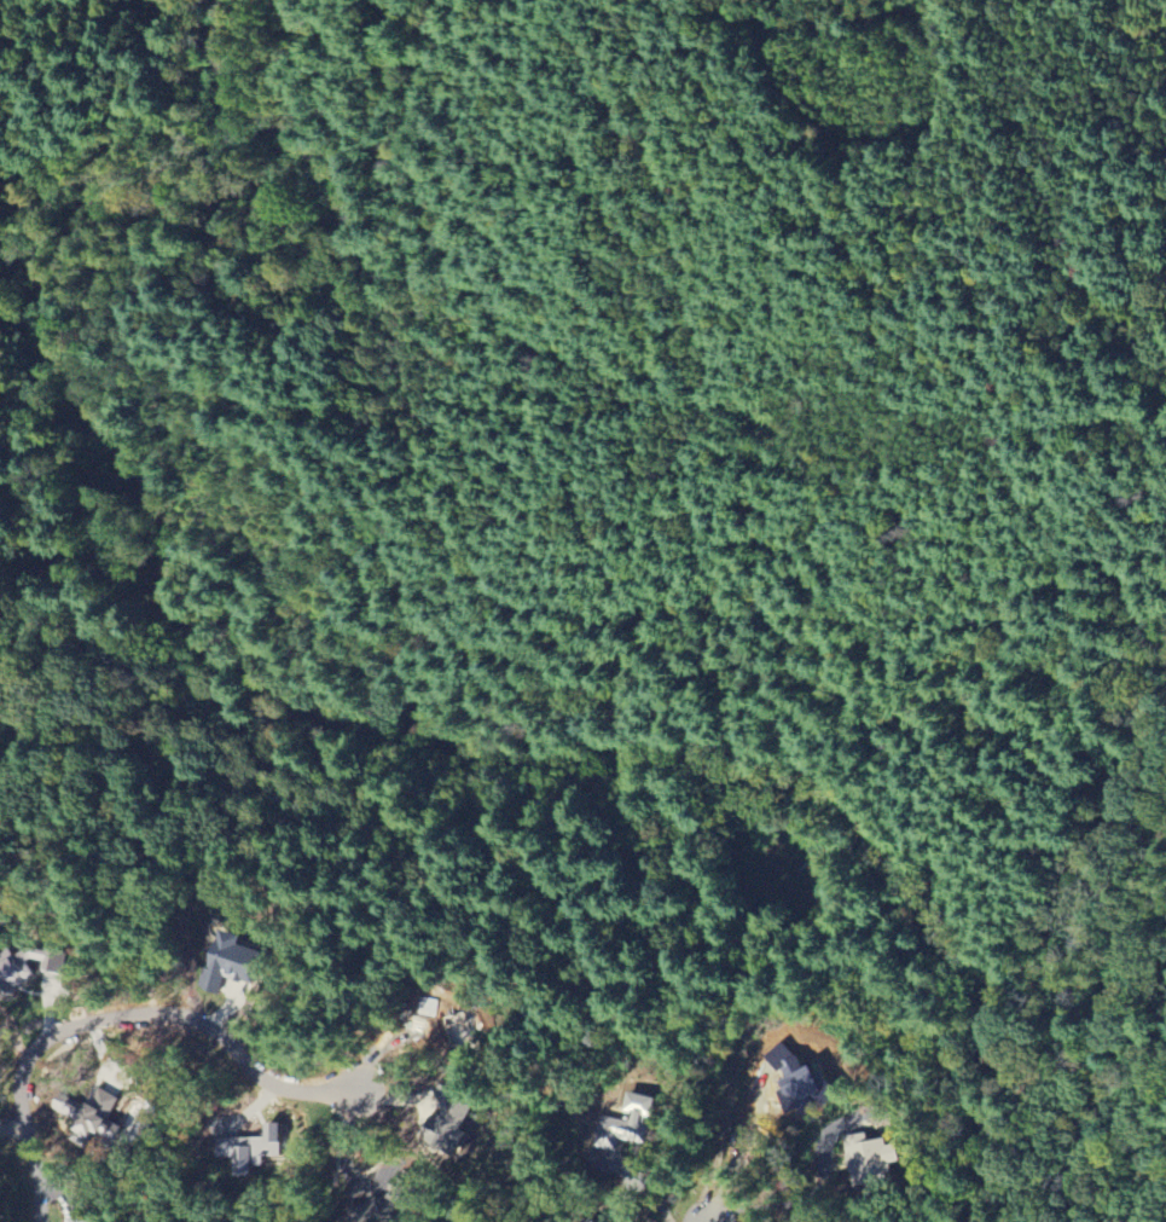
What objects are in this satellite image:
road: (292, 195)
road: (395, 202)
road: (932, 208)
road: (654, 469)
road: (389, 701)
road: (998, 729)
building: (231, 960)
building: (28, 966)
road: (126, 1019)
building: (804, 1081)
building: (103, 1108)
building: (456, 1116)
building: (632, 1124)
building: (255, 1149)
building: (871, 1162)
road: (793, 1201)
building: (88, 1220)

